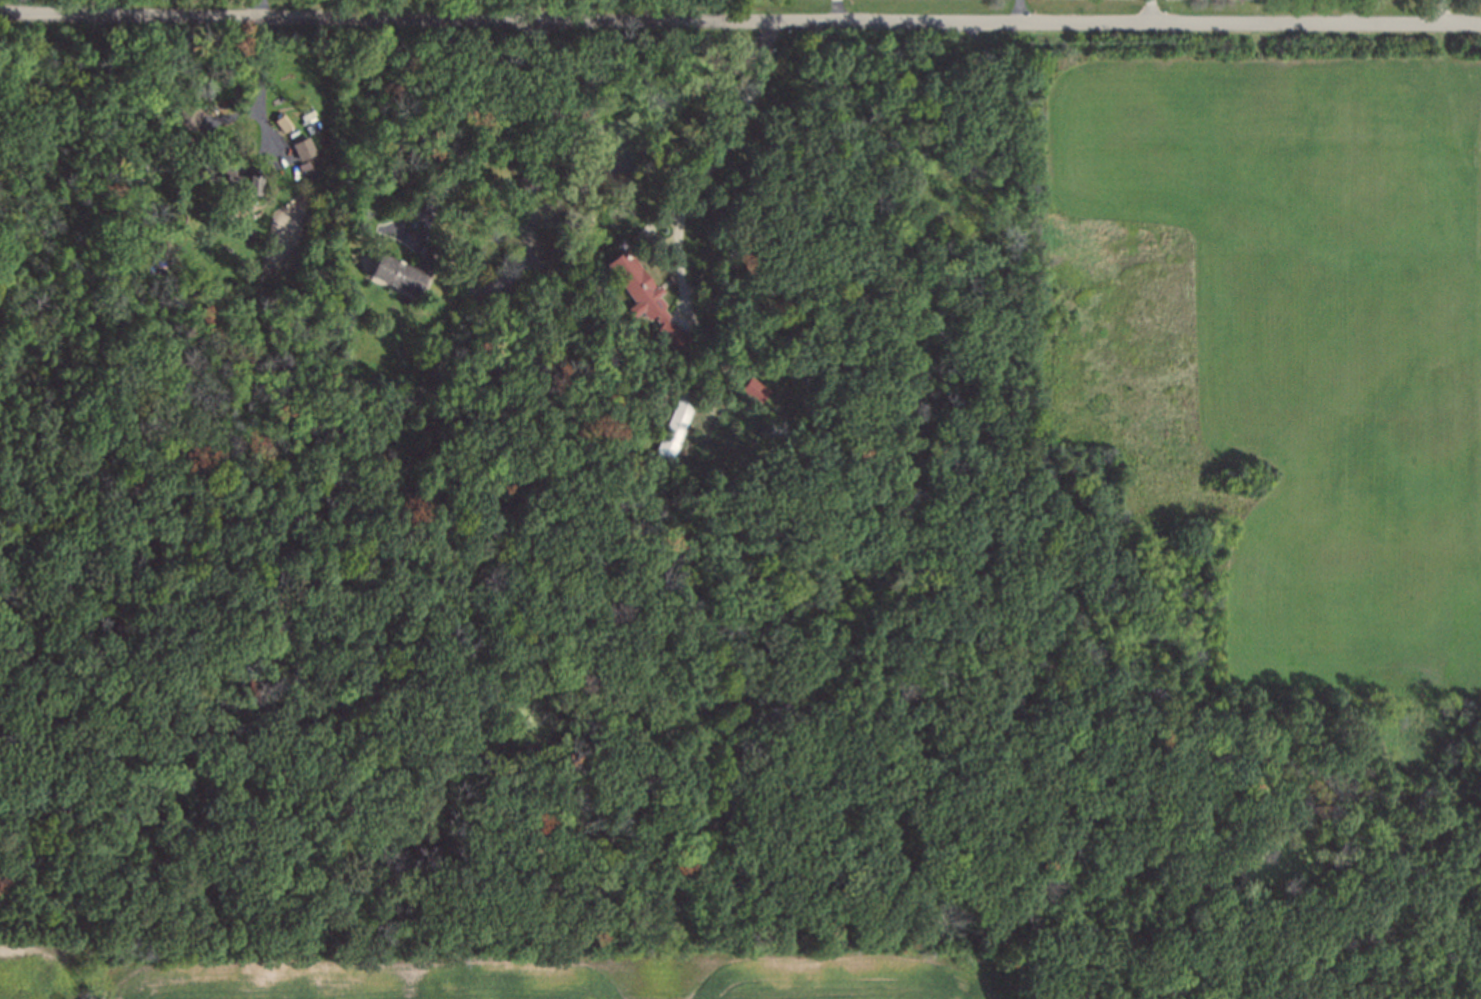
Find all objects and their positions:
road: (99, 7)
road: (258, 7)
road: (537, 8)
road: (1021, 10)
road: (1155, 11)
road: (740, 18)
road: (264, 78)
building: (190, 116)
road: (496, 122)
building: (285, 123)
building: (306, 148)
road: (711, 165)
building: (254, 184)
building: (431, 262)
building: (395, 276)
building: (641, 294)
building: (671, 334)
building: (753, 390)
building: (679, 416)
crop: (24, 971)
crop: (566, 977)

